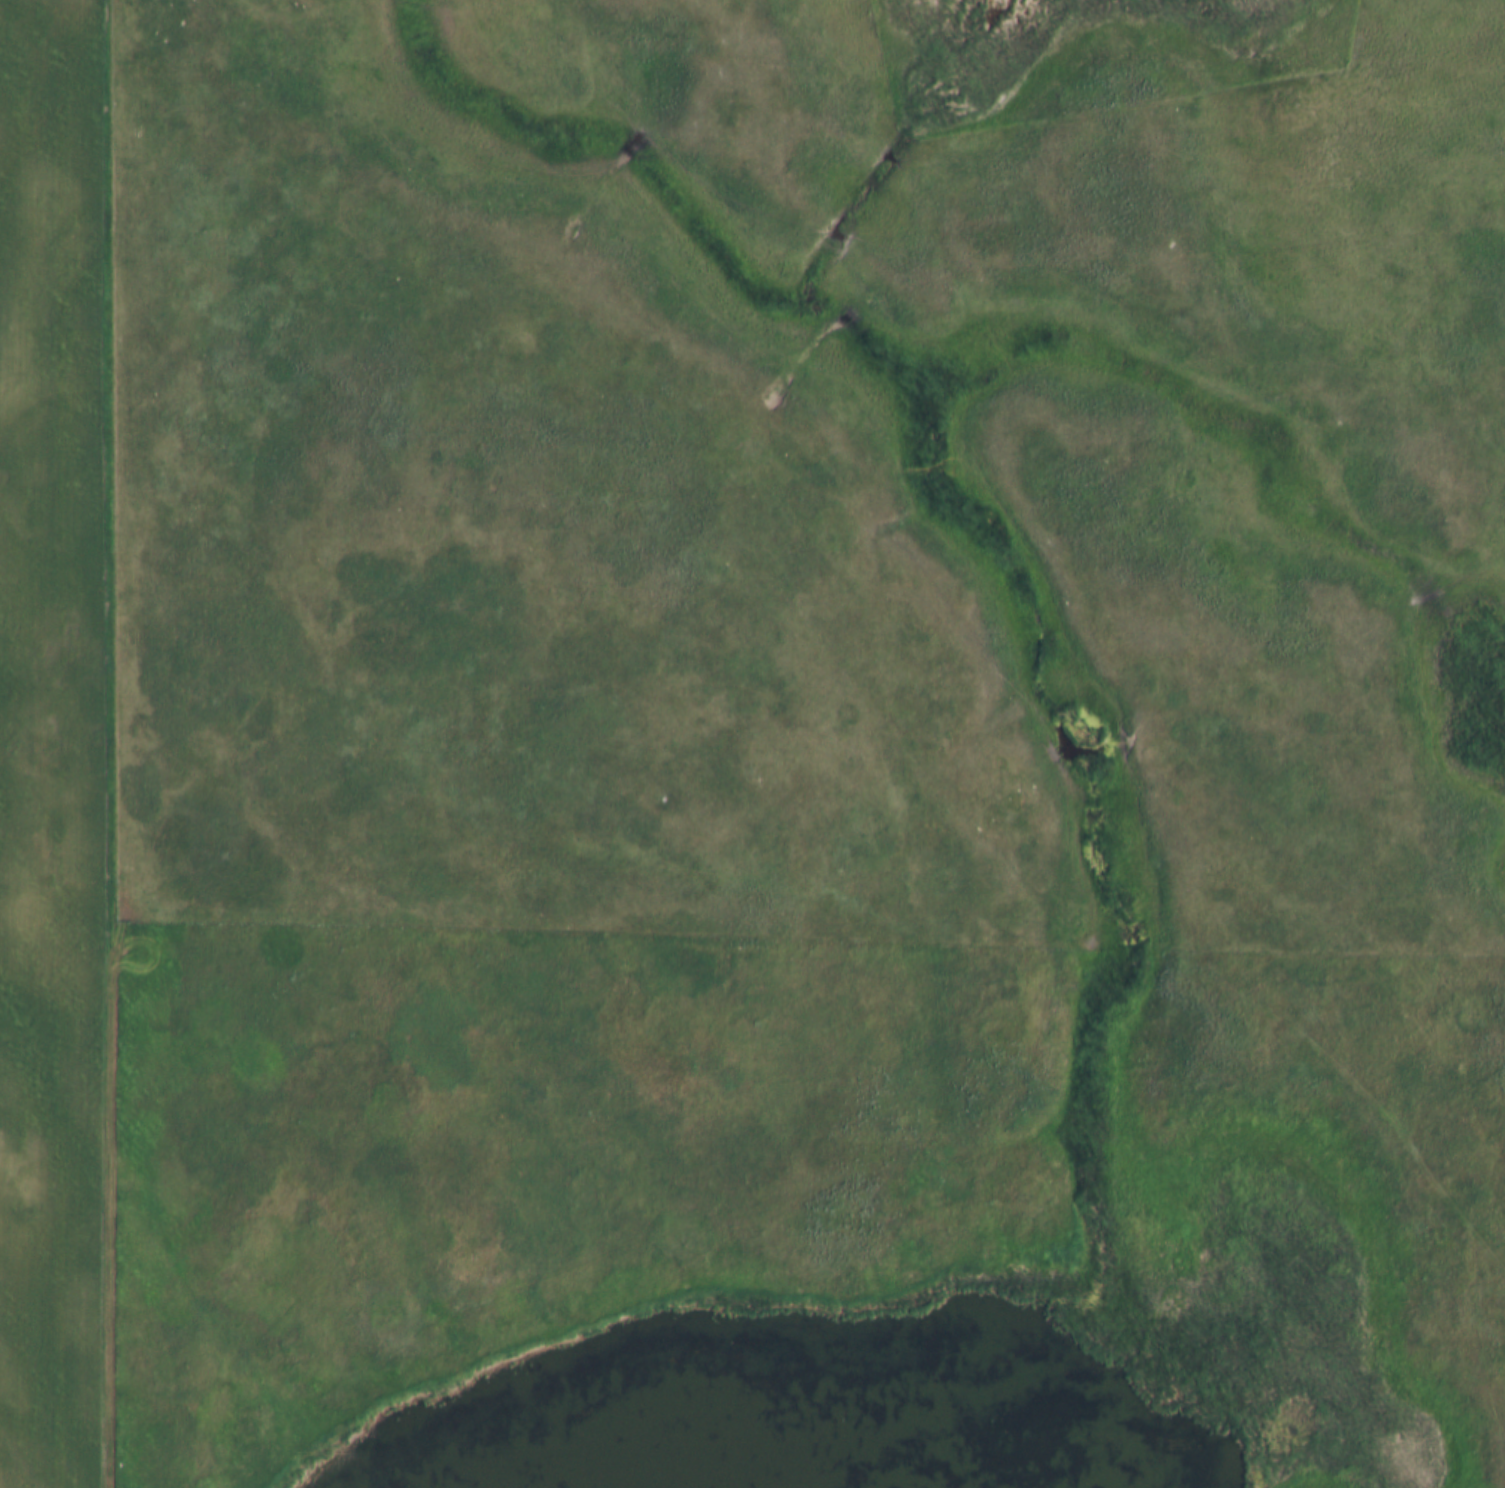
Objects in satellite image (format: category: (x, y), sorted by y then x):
crop: (45, 739)

